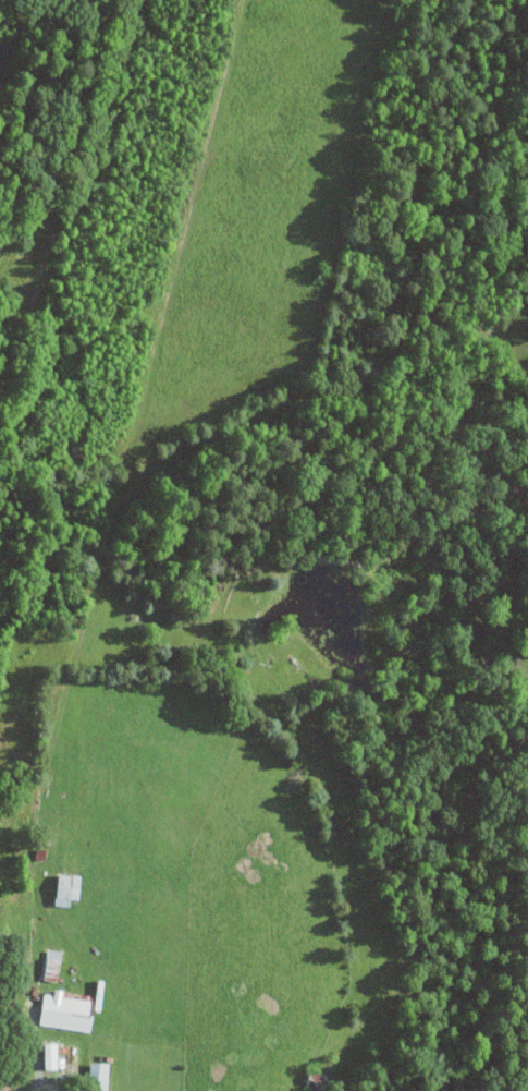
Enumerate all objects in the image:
building: (69, 888)
building: (51, 962)
building: (67, 1011)
building: (52, 1055)
building: (102, 1076)

